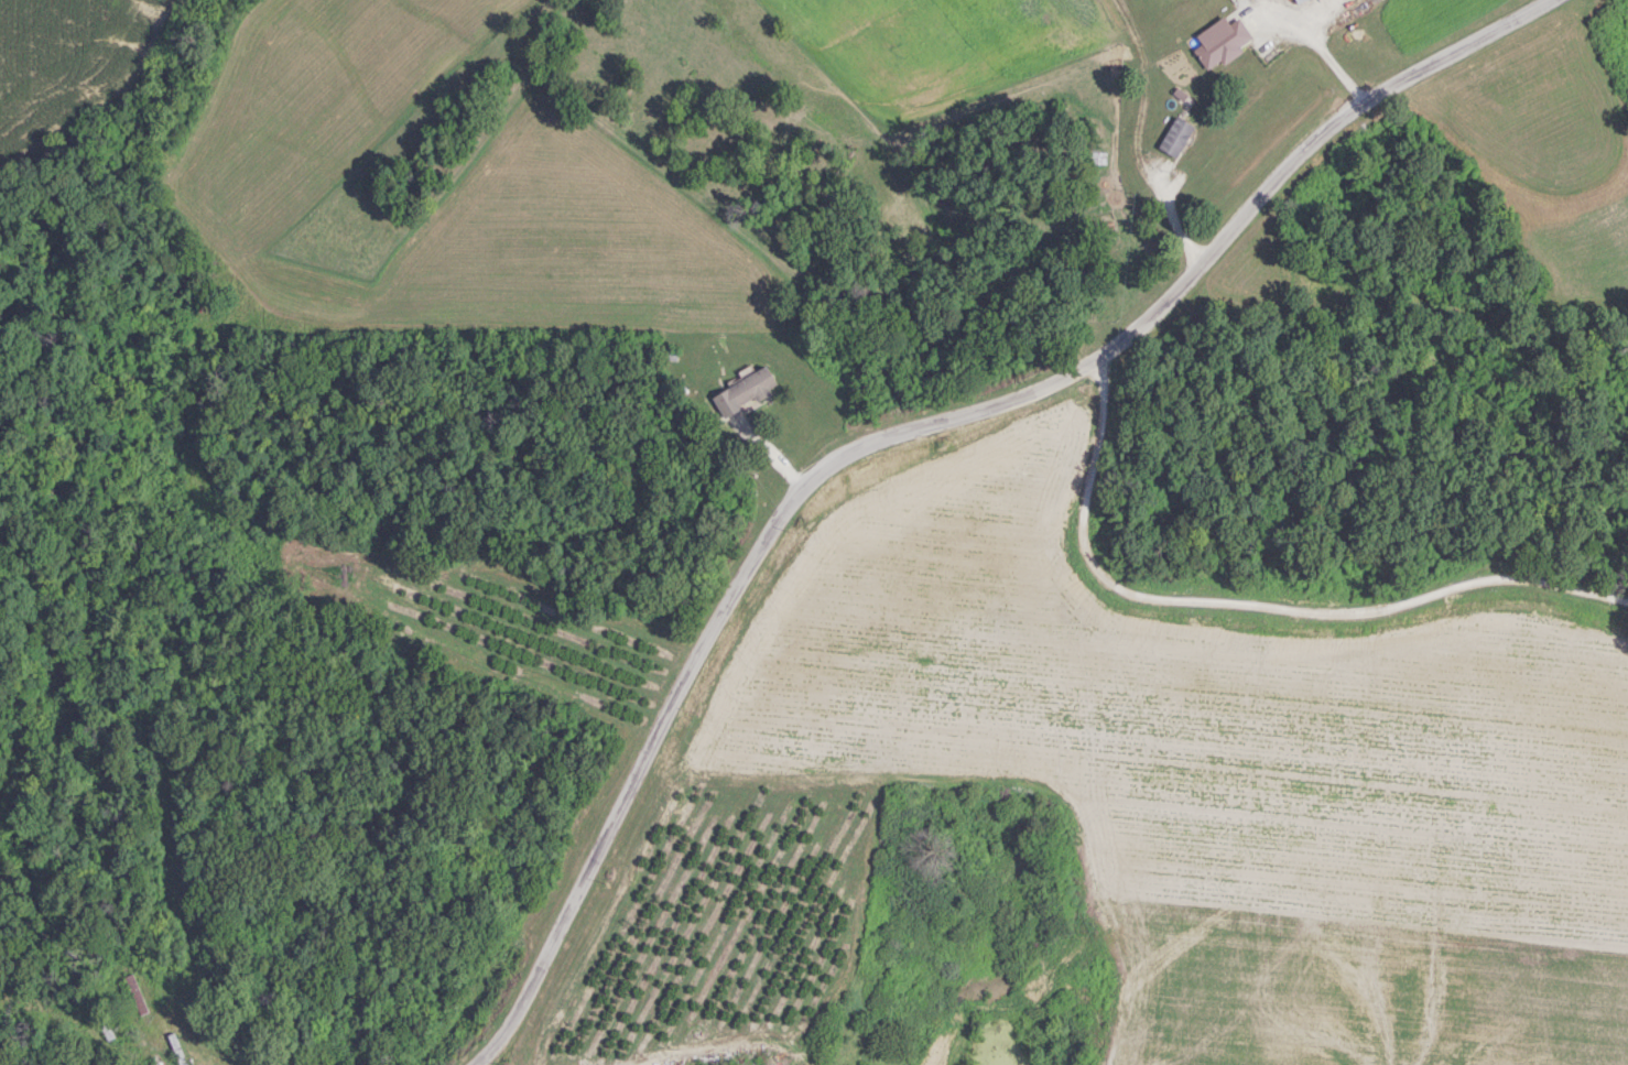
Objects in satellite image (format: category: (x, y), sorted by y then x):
building: (1295, 0)
crop: (1434, 19)
building: (1222, 40)
road: (1315, 44)
crop: (965, 50)
building: (1177, 134)
road: (1296, 150)
building: (1108, 229)
building: (746, 390)
road: (1249, 601)
road: (713, 631)
building: (137, 992)

